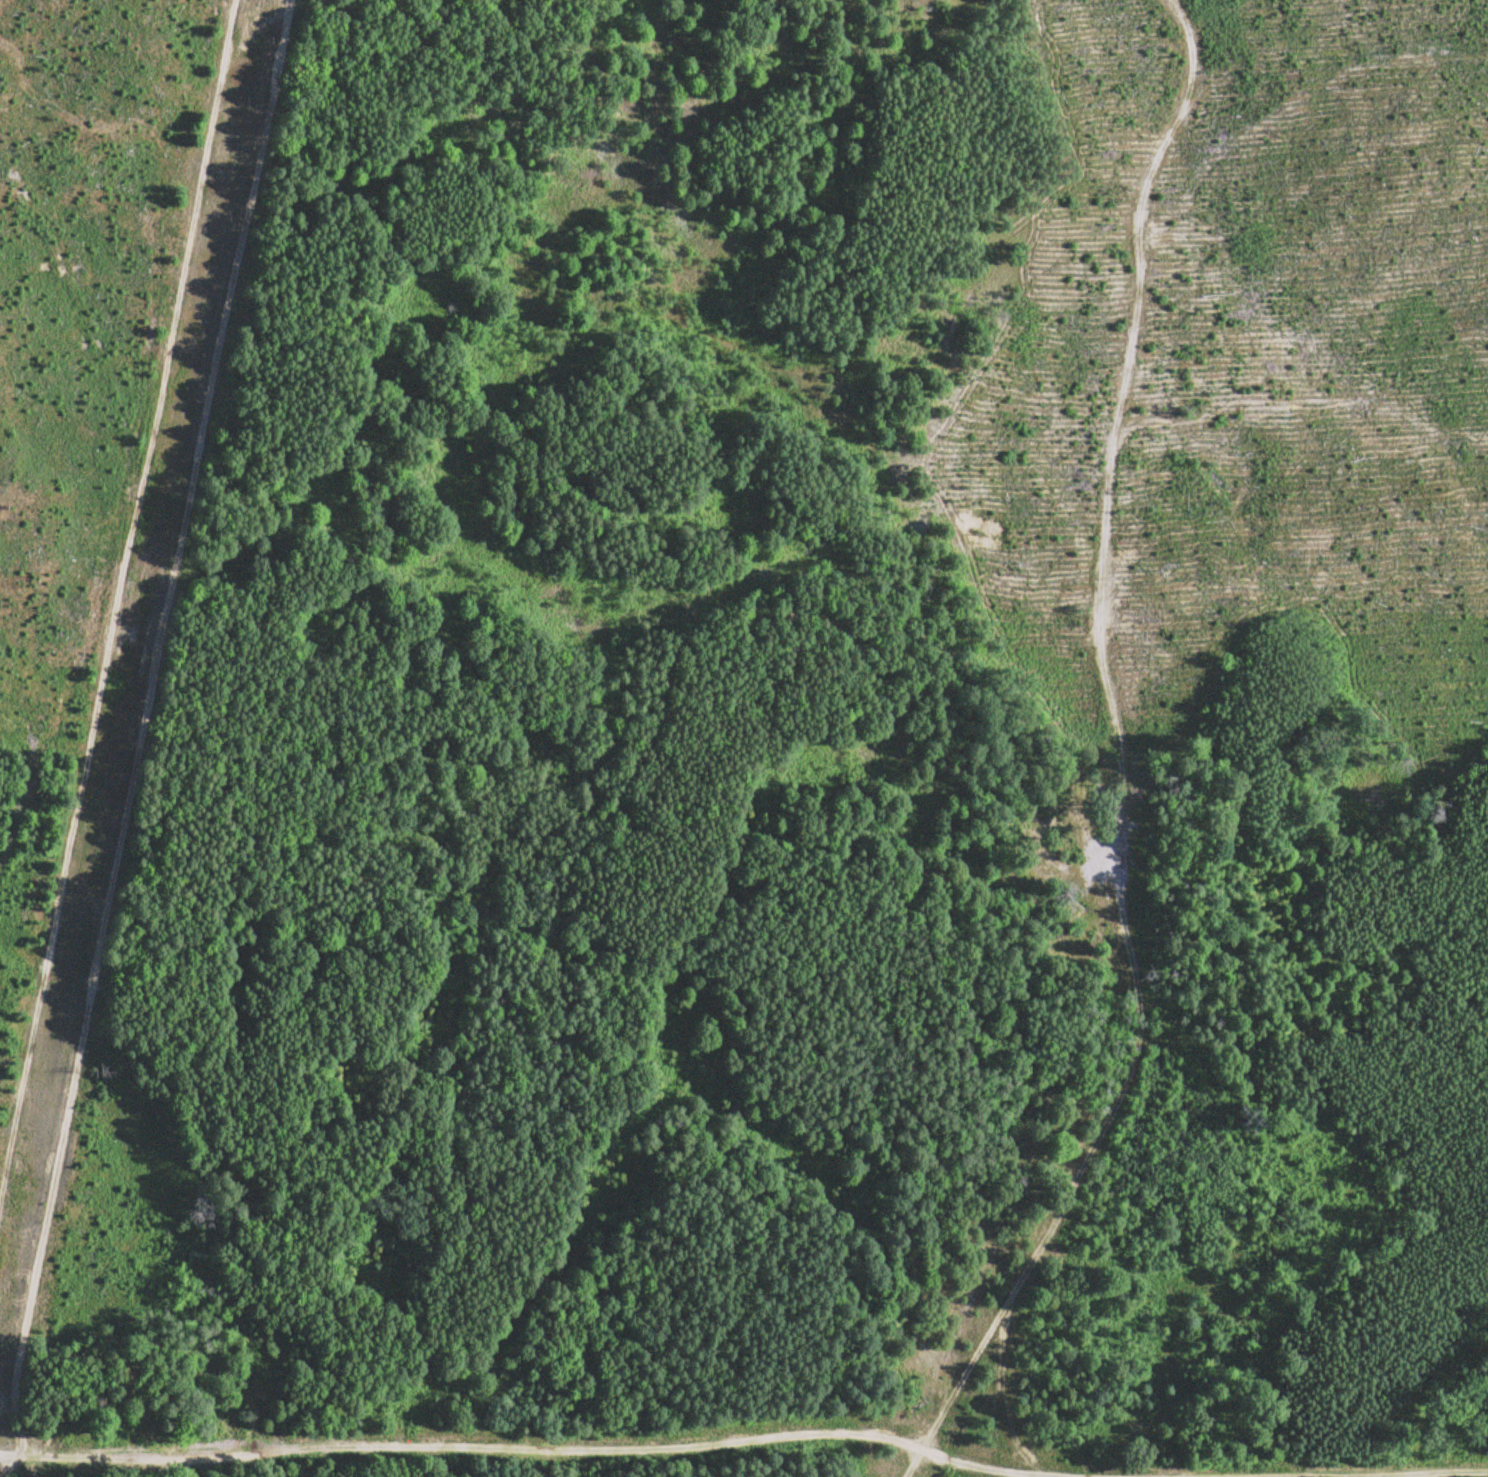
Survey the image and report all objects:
road: (143, 717)
road: (1106, 720)
road: (921, 1447)
road: (532, 1448)

